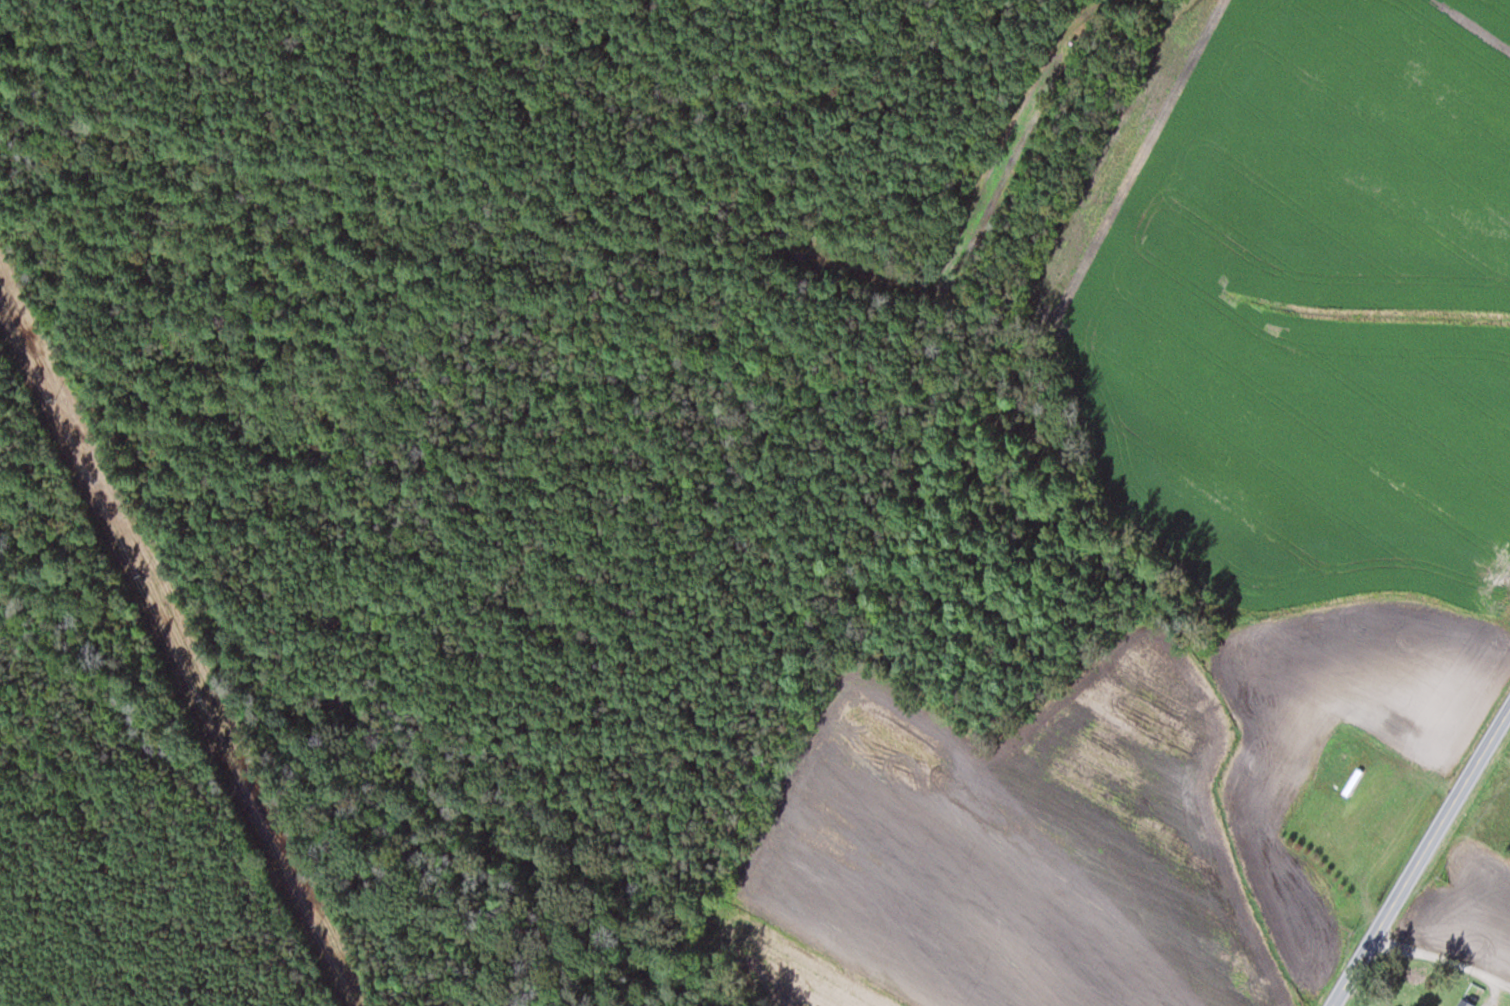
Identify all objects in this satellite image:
road: (1419, 856)
road: (1442, 958)
building: (1464, 1002)

